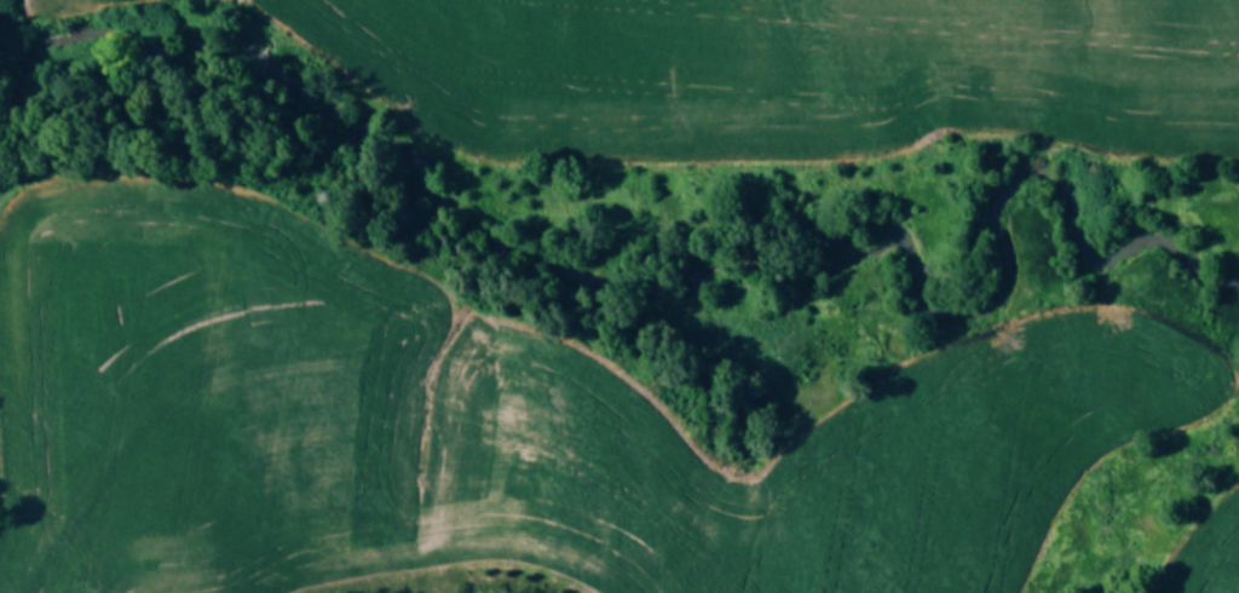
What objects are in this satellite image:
crop: (1205, 554)

